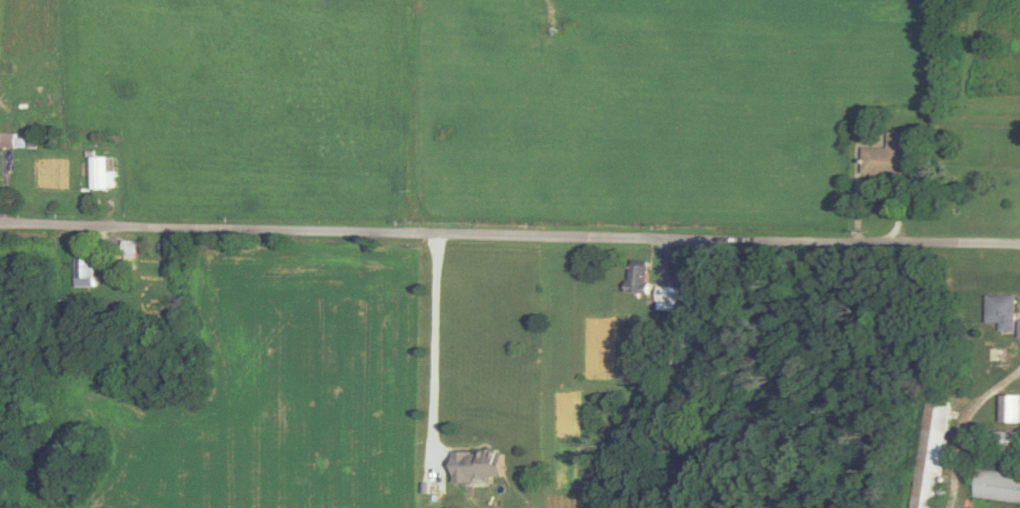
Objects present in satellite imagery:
building: (13, 139)
building: (892, 157)
building: (102, 172)
road: (510, 234)
building: (88, 265)
building: (640, 276)
building: (669, 298)
building: (1005, 310)
road: (435, 343)
building: (1012, 408)
road: (972, 426)
building: (1011, 441)
building: (931, 454)
building: (485, 464)
building: (999, 485)

